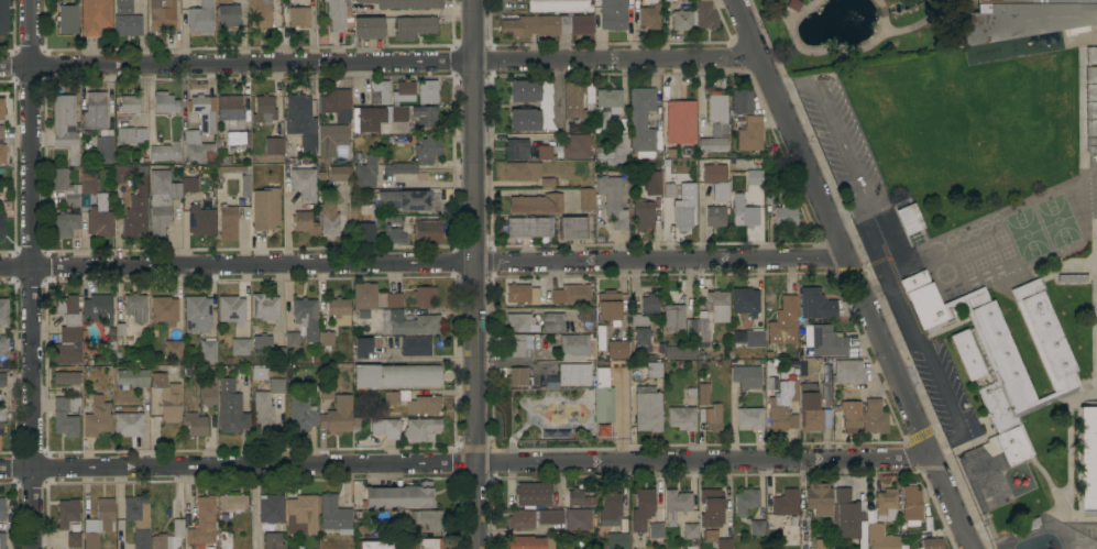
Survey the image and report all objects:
building: (222, 0)
building: (669, 0)
building: (405, 3)
building: (793, 4)
building: (557, 6)
building: (123, 7)
building: (261, 13)
building: (649, 13)
building: (337, 14)
building: (613, 14)
building: (705, 14)
building: (162, 15)
building: (228, 15)
building: (95, 17)
building: (298, 17)
building: (3, 18)
building: (200, 18)
building: (67, 19)
building: (1017, 19)
building: (682, 20)
building: (128, 25)
building: (546, 25)
building: (414, 26)
building: (368, 28)
park: (848, 31)
building: (1090, 55)
road: (379, 59)
building: (1090, 75)
building: (864, 77)
building: (427, 91)
building: (1090, 92)
building: (372, 94)
building: (610, 98)
building: (574, 100)
building: (742, 101)
building: (165, 103)
building: (129, 105)
building: (337, 105)
building: (545, 107)
building: (229, 108)
building: (1, 109)
building: (263, 109)
building: (1090, 110)
building: (95, 111)
building: (394, 111)
building: (717, 113)
building: (640, 119)
building: (602, 120)
building: (300, 121)
building: (680, 122)
building: (65, 125)
building: (1090, 128)
building: (200, 130)
building: (1, 132)
building: (140, 134)
building: (750, 134)
building: (124, 135)
building: (238, 139)
building: (331, 140)
road: (844, 142)
building: (711, 145)
building: (1091, 145)
building: (103, 146)
building: (274, 146)
building: (574, 147)
building: (516, 149)
building: (427, 150)
building: (614, 151)
building: (165, 152)
building: (544, 153)
building: (2, 154)
building: (398, 168)
building: (748, 169)
building: (366, 172)
building: (523, 172)
building: (339, 173)
building: (119, 175)
building: (245, 178)
building: (716, 180)
building: (548, 182)
building: (88, 183)
building: (301, 183)
building: (652, 183)
building: (189, 185)
building: (65, 186)
building: (669, 190)
building: (162, 199)
building: (404, 199)
building: (585, 199)
building: (613, 200)
building: (536, 204)
building: (265, 209)
building: (744, 210)
building: (785, 213)
building: (682, 216)
building: (643, 217)
building: (714, 217)
building: (99, 218)
building: (135, 218)
building: (909, 219)
building: (200, 220)
building: (228, 222)
building: (304, 222)
building: (1, 223)
building: (329, 223)
building: (65, 224)
building: (529, 227)
building: (572, 228)
building: (428, 231)
building: (364, 232)
building: (394, 234)
building: (876, 239)
road: (424, 261)
road: (32, 274)
road: (474, 274)
road: (855, 274)
building: (1072, 278)
building: (522, 293)
building: (424, 295)
building: (364, 296)
building: (564, 296)
building: (394, 299)
building: (746, 301)
building: (649, 303)
building: (816, 305)
building: (608, 306)
building: (135, 307)
building: (264, 307)
building: (98, 309)
building: (231, 309)
building: (338, 309)
building: (164, 310)
building: (3, 311)
building: (711, 311)
building: (197, 314)
building: (584, 314)
building: (306, 317)
building: (673, 318)
building: (408, 322)
building: (520, 322)
building: (552, 322)
building: (691, 325)
building: (783, 327)
building: (639, 330)
building: (68, 331)
building: (124, 333)
building: (748, 338)
building: (290, 339)
building: (326, 340)
building: (826, 342)
building: (3, 344)
building: (519, 344)
building: (240, 347)
building: (362, 347)
building: (416, 347)
building: (577, 347)
building: (267, 348)
building: (173, 349)
building: (601, 349)
building: (208, 350)
building: (617, 350)
building: (680, 352)
building: (1003, 353)
building: (966, 354)
road: (929, 359)
building: (652, 370)
building: (847, 371)
building: (574, 374)
building: (395, 376)
building: (746, 376)
building: (65, 377)
building: (132, 377)
building: (523, 377)
building: (2, 378)
building: (325, 392)
building: (825, 393)
building: (703, 394)
building: (208, 395)
building: (603, 396)
building: (167, 398)
building: (414, 402)
building: (265, 406)
building: (230, 407)
building: (782, 407)
building: (848, 407)
building: (647, 409)
building: (812, 409)
building: (1, 416)
building: (66, 416)
building: (339, 416)
building: (97, 417)
building: (682, 417)
building: (711, 417)
building: (874, 417)
building: (301, 418)
building: (749, 418)
building: (195, 424)
building: (128, 425)
building: (386, 428)
building: (421, 429)
building: (1087, 458)
road: (465, 463)
building: (979, 468)
building: (533, 494)
building: (399, 496)
building: (579, 498)
building: (818, 499)
building: (746, 501)
building: (232, 502)
building: (785, 503)
building: (886, 504)
building: (911, 504)
building: (676, 505)
building: (2, 508)
building: (271, 508)
building: (711, 508)
building: (610, 509)
building: (643, 509)
building: (67, 513)
building: (301, 515)
building: (334, 515)
building: (846, 515)
building: (533, 518)
building: (138, 519)
building: (429, 519)
building: (578, 519)
building: (202, 521)
building: (98, 523)
building: (1024, 525)
building: (756, 527)
building: (361, 529)
building: (656, 530)
building: (690, 530)
building: (169, 537)
building: (880, 538)
building: (224, 539)
building: (716, 539)
building: (2, 540)
building: (74, 540)
building: (617, 540)
building: (273, 541)
building: (529, 542)
building: (376, 543)
building: (430, 543)
building: (822, 543)
building: (930, 543)

